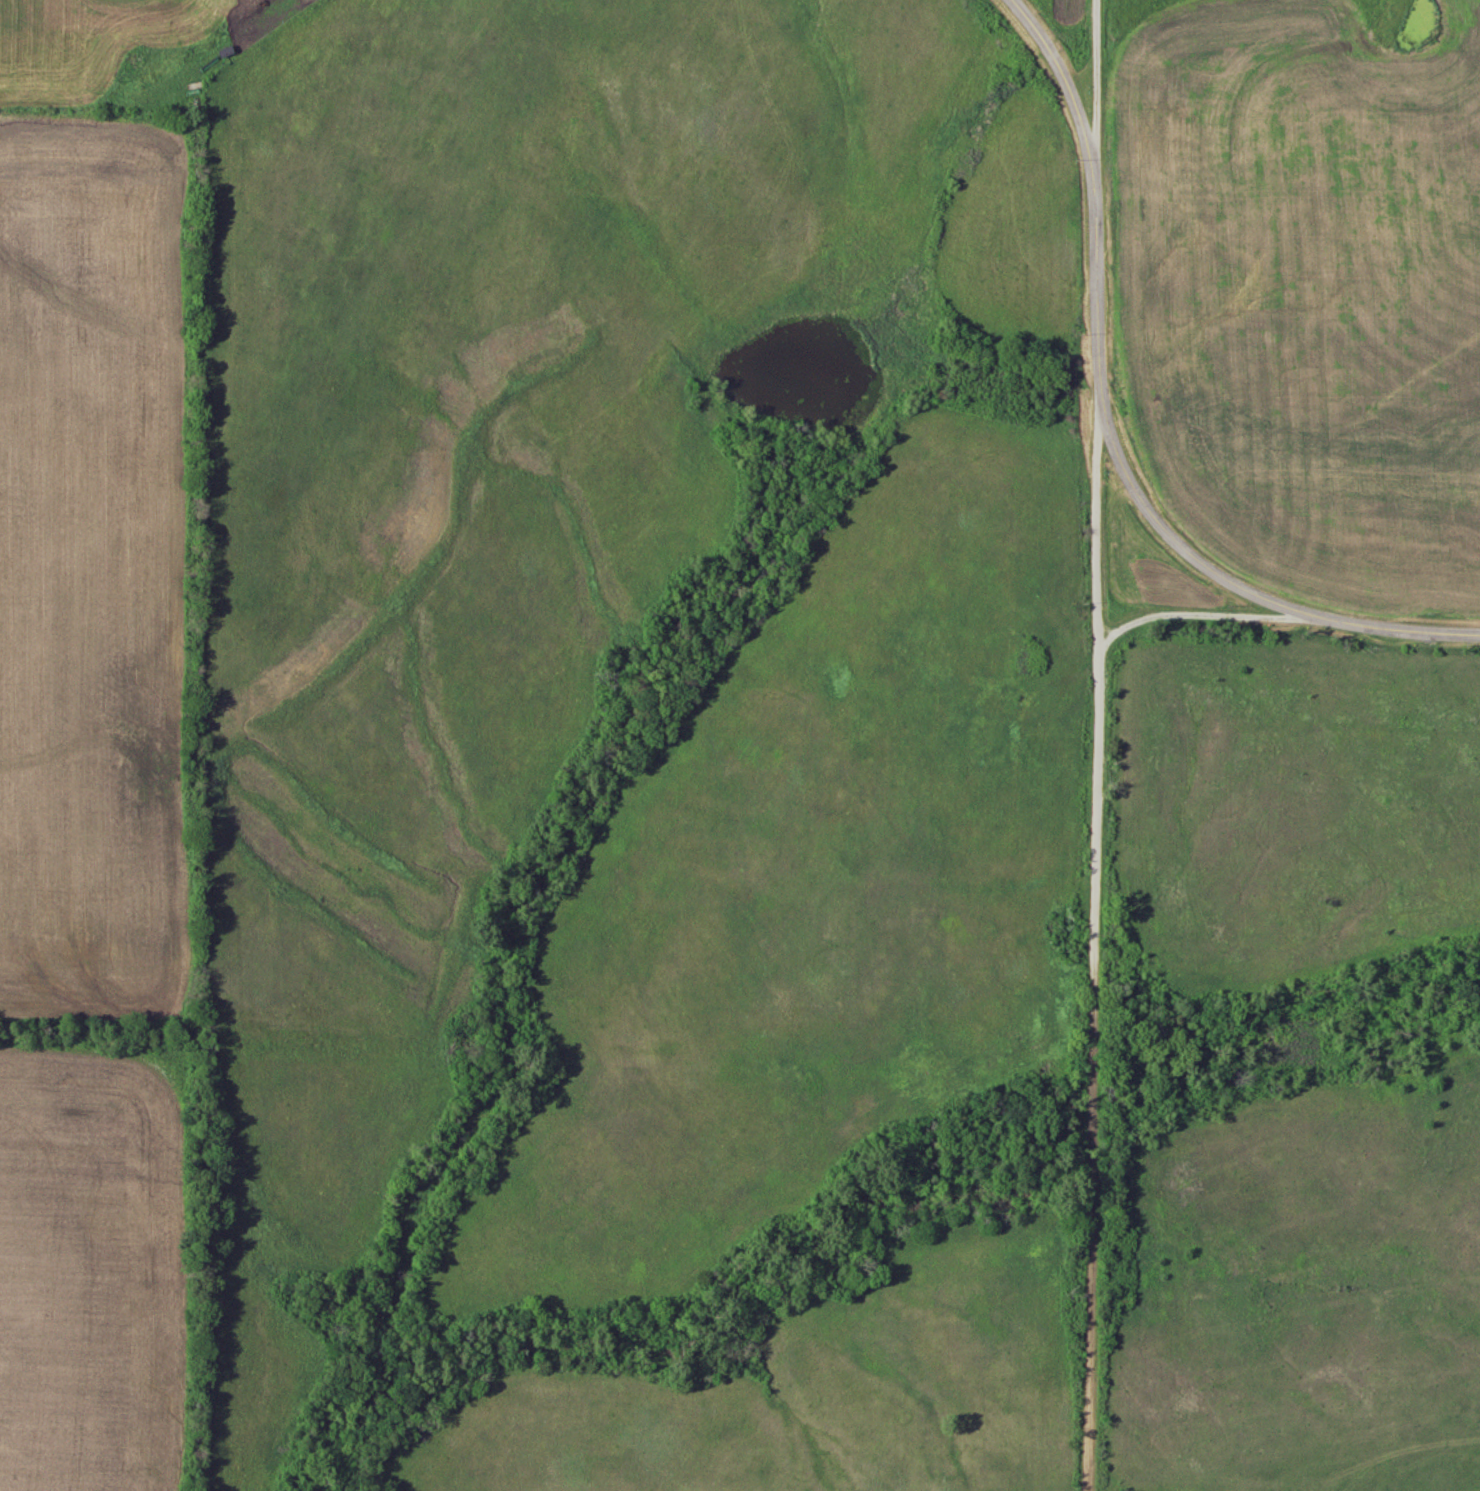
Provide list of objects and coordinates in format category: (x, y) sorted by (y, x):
road: (1096, 94)
road: (1091, 192)
road: (1244, 588)
road: (1209, 614)
road: (1101, 947)

